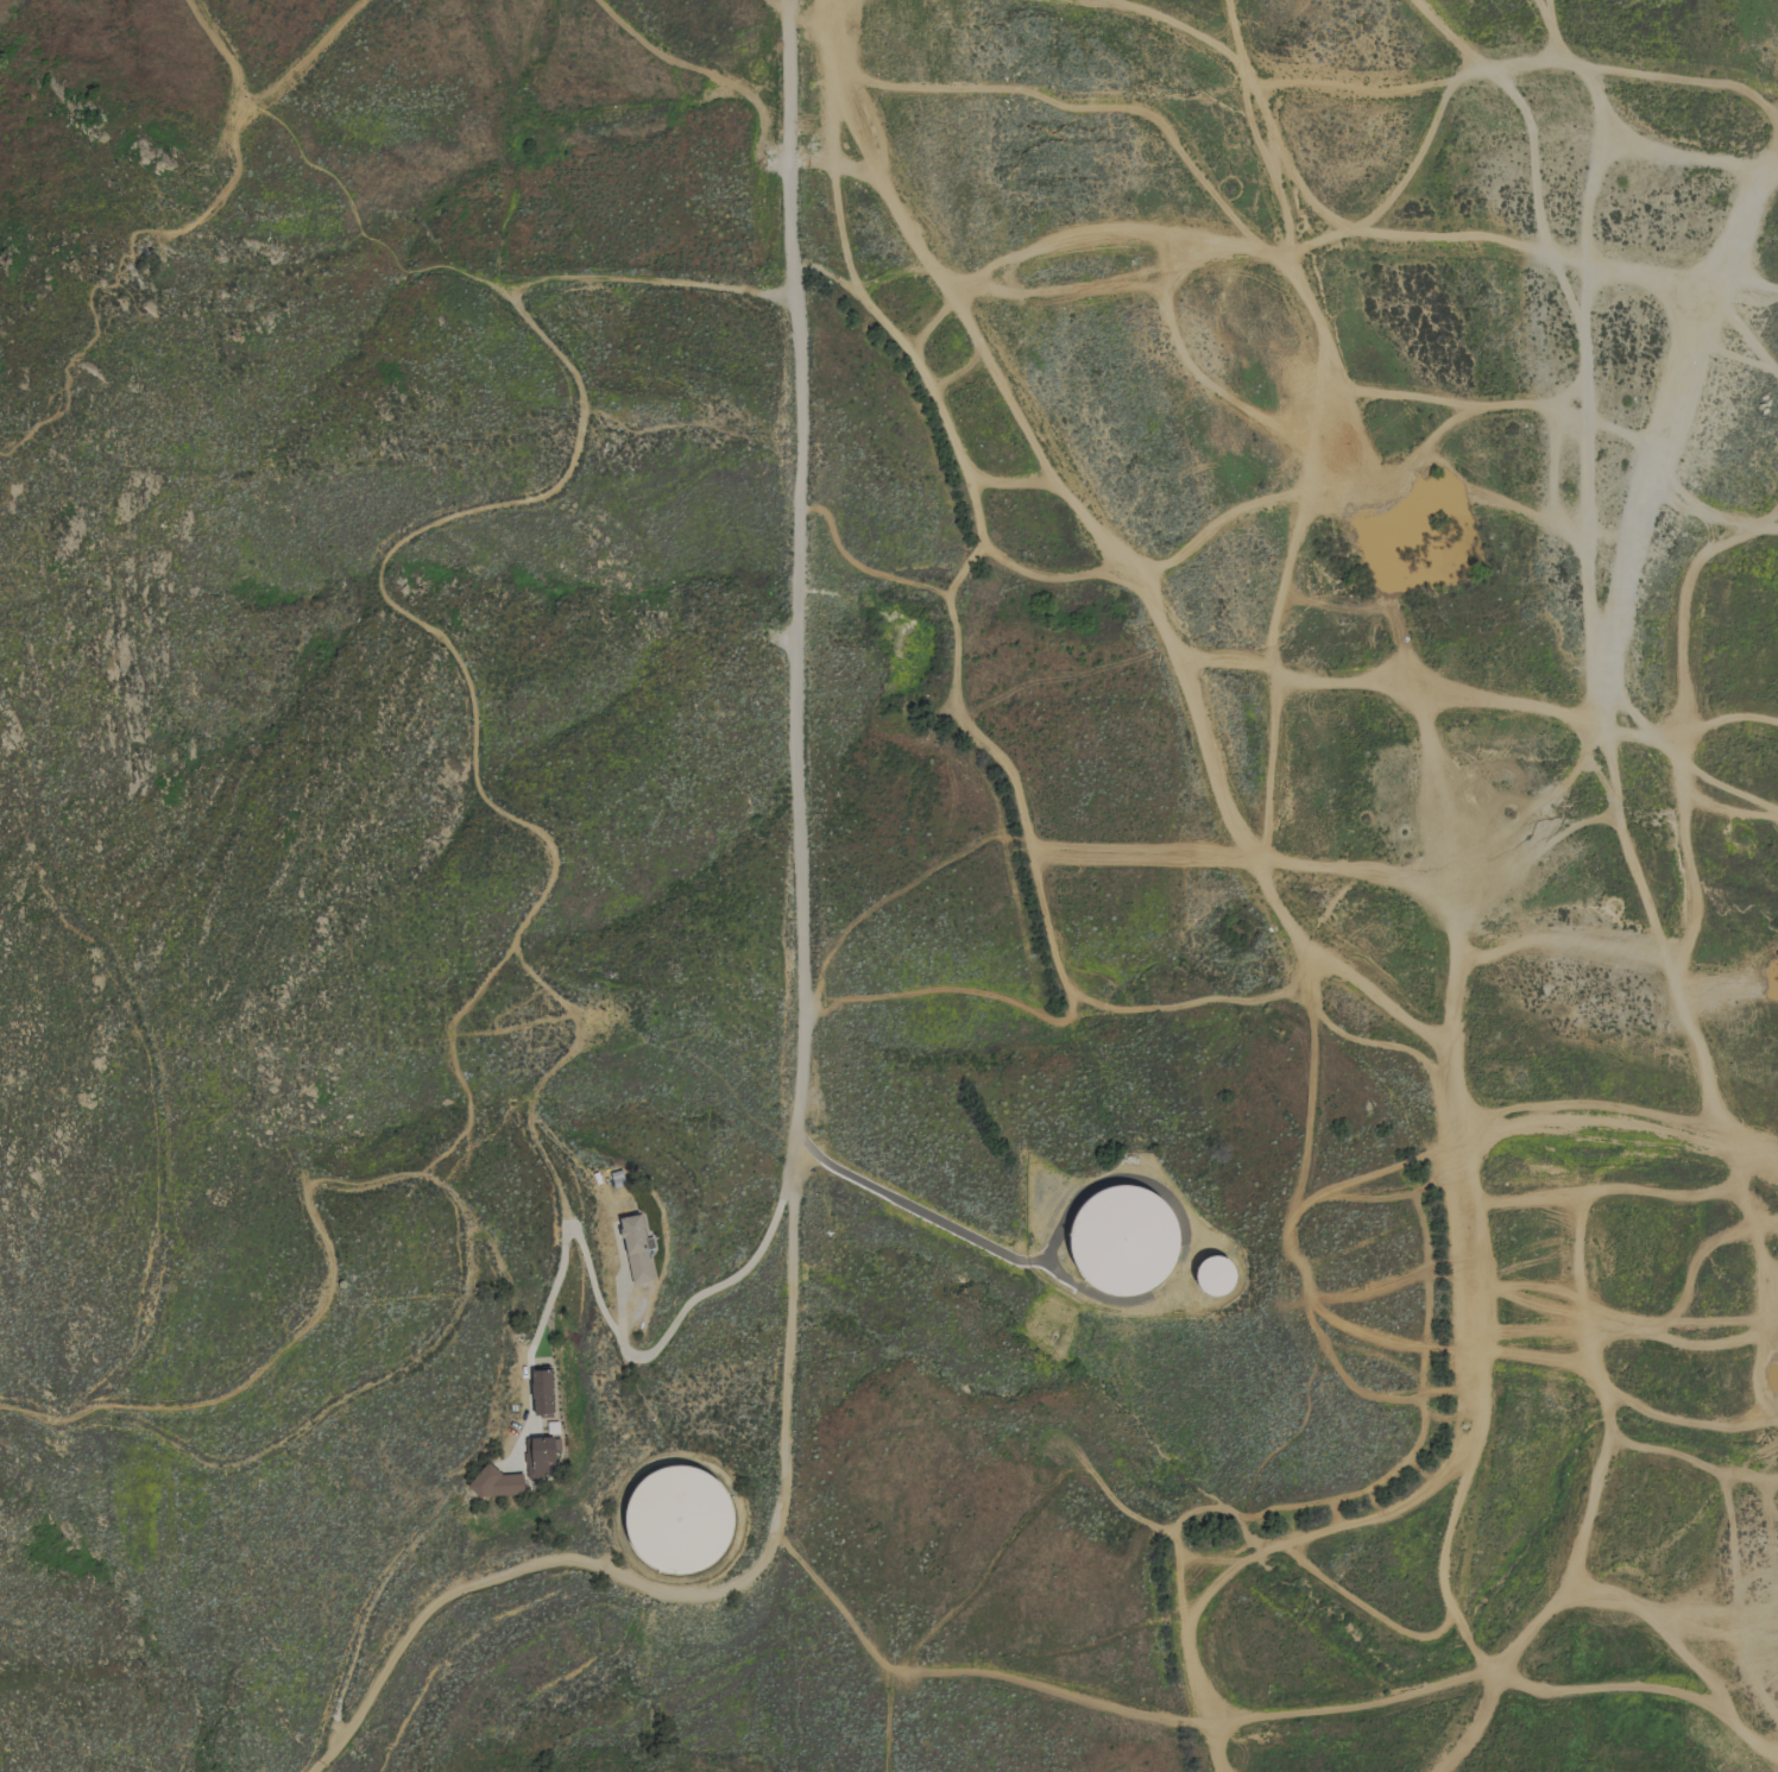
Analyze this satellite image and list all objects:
road: (800, 1061)
road: (901, 1206)
building: (1126, 1240)
storage tank: (1126, 1240)
building: (635, 1248)
building: (1216, 1274)
storage tank: (1216, 1274)
road: (625, 1342)
building: (541, 1392)
building: (496, 1482)
building: (680, 1516)
storage tank: (680, 1516)

